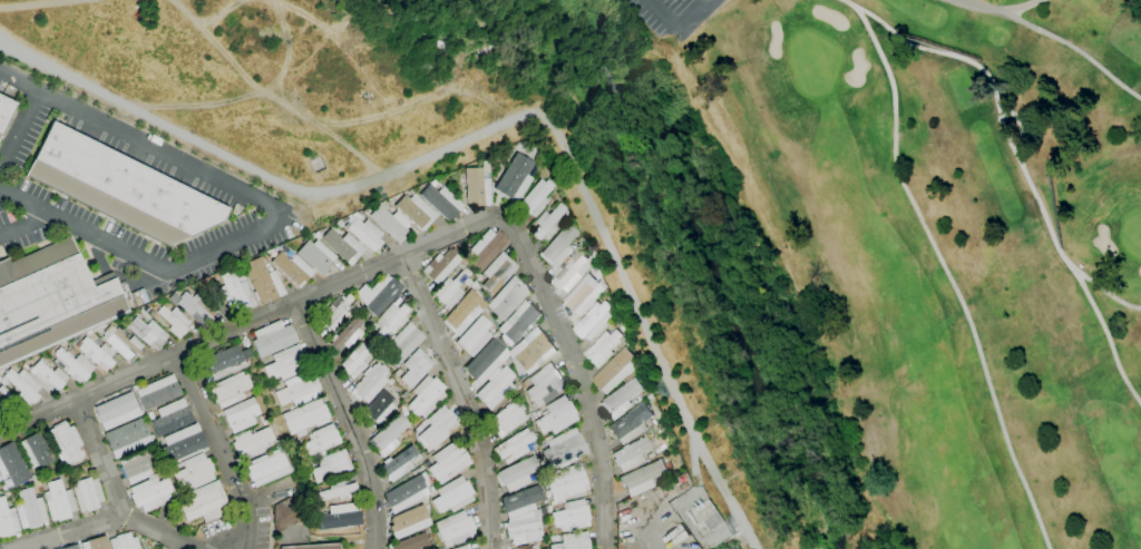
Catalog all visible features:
road: (703, 2)
road: (847, 6)
road: (982, 6)
road: (1020, 6)
road: (663, 16)
road: (695, 16)
parking lot: (676, 19)
road: (1074, 50)
building: (4, 111)
road: (20, 127)
road: (489, 130)
parking lot: (28, 138)
parking lot: (143, 159)
road: (1025, 177)
building: (515, 178)
building: (477, 187)
building: (120, 188)
building: (536, 198)
building: (441, 202)
building: (416, 210)
road: (276, 213)
parking lot: (7, 216)
parking lot: (85, 216)
building: (390, 223)
building: (549, 223)
road: (21, 225)
river: (694, 229)
building: (365, 234)
parking lot: (26, 241)
building: (342, 246)
building: (558, 247)
building: (486, 248)
park: (959, 249)
road: (411, 251)
building: (316, 256)
parking lot: (223, 262)
building: (440, 267)
building: (292, 268)
building: (570, 272)
building: (497, 273)
road: (946, 278)
building: (263, 281)
building: (451, 288)
building: (236, 293)
road: (1105, 294)
building: (378, 295)
building: (582, 296)
building: (506, 300)
building: (51, 302)
building: (193, 306)
building: (334, 312)
building: (461, 314)
building: (174, 321)
building: (371, 321)
building: (390, 321)
building: (519, 321)
building: (593, 321)
building: (147, 332)
building: (347, 335)
building: (474, 336)
building: (273, 339)
building: (121, 343)
building: (403, 343)
building: (602, 349)
building: (530, 350)
building: (96, 354)
building: (357, 360)
building: (225, 362)
building: (484, 362)
building: (287, 363)
building: (74, 366)
building: (416, 369)
building: (614, 372)
building: (48, 376)
building: (369, 384)
building: (22, 385)
building: (545, 385)
building: (230, 389)
building: (495, 389)
building: (299, 390)
building: (157, 392)
building: (426, 396)
road: (464, 396)
building: (621, 399)
building: (6, 401)
building: (380, 409)
building: (116, 411)
building: (240, 415)
building: (305, 416)
building: (556, 416)
building: (170, 418)
building: (507, 420)
road: (349, 421)
building: (630, 424)
building: (437, 428)
building: (388, 437)
building: (127, 439)
building: (322, 440)
building: (65, 443)
building: (183, 443)
building: (251, 444)
building: (514, 447)
road: (221, 449)
building: (563, 449)
building: (35, 450)
building: (630, 454)
road: (99, 458)
building: (449, 461)
building: (12, 464)
building: (398, 464)
building: (137, 465)
building: (331, 465)
building: (267, 468)
building: (193, 473)
building: (517, 473)
building: (642, 478)
building: (566, 482)
building: (0, 486)
building: (335, 491)
building: (406, 492)
building: (150, 493)
building: (87, 494)
building: (452, 496)
building: (58, 501)
building: (203, 501)
building: (520, 502)
building: (30, 509)
building: (286, 514)
building: (340, 517)
building: (569, 517)
building: (703, 519)
building: (7, 520)
road: (107, 520)
building: (409, 521)
building: (455, 529)
building: (523, 531)
road: (624, 533)
building: (572, 541)
building: (124, 542)
building: (411, 542)
building: (96, 543)
building: (71, 547)
building: (313, 547)
building: (460, 547)
building: (523, 547)

